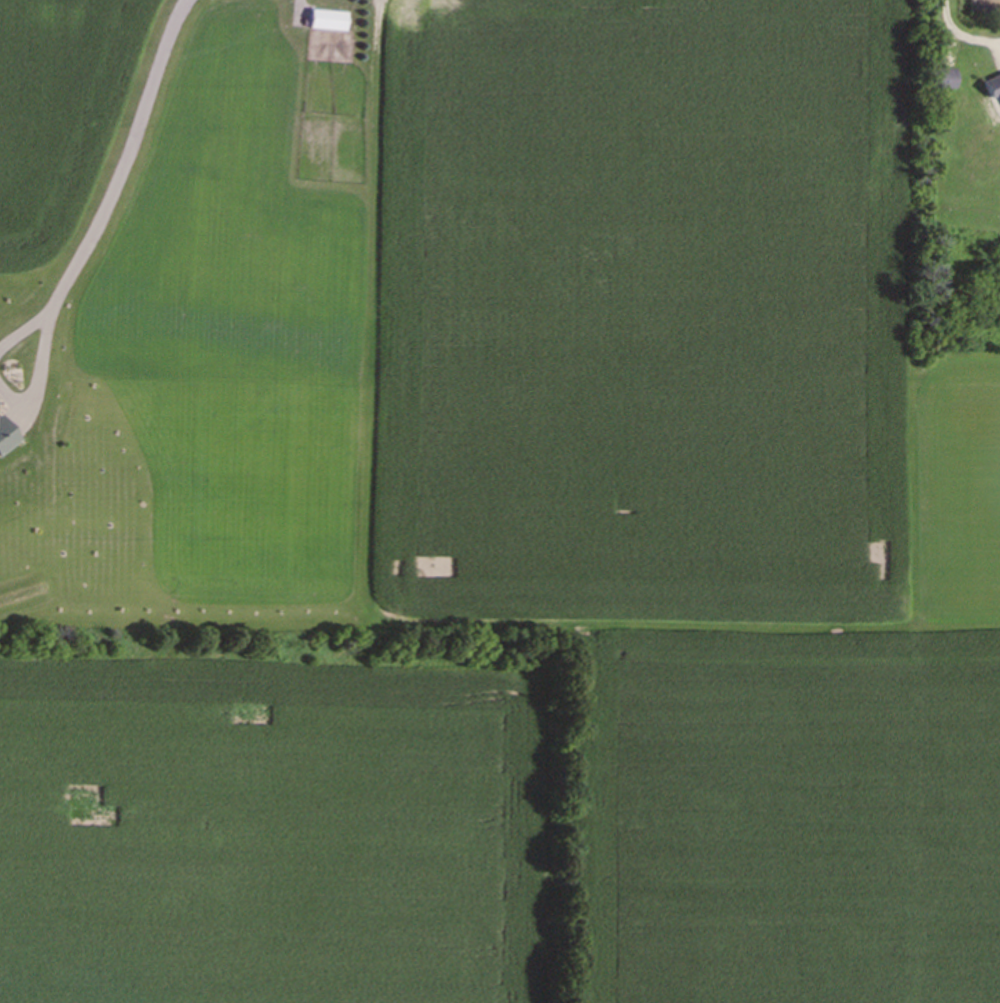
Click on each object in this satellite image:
crop: (988, 10)
road: (959, 37)
building: (938, 81)
building: (991, 88)
crop: (62, 111)
road: (109, 202)
crop: (529, 540)

